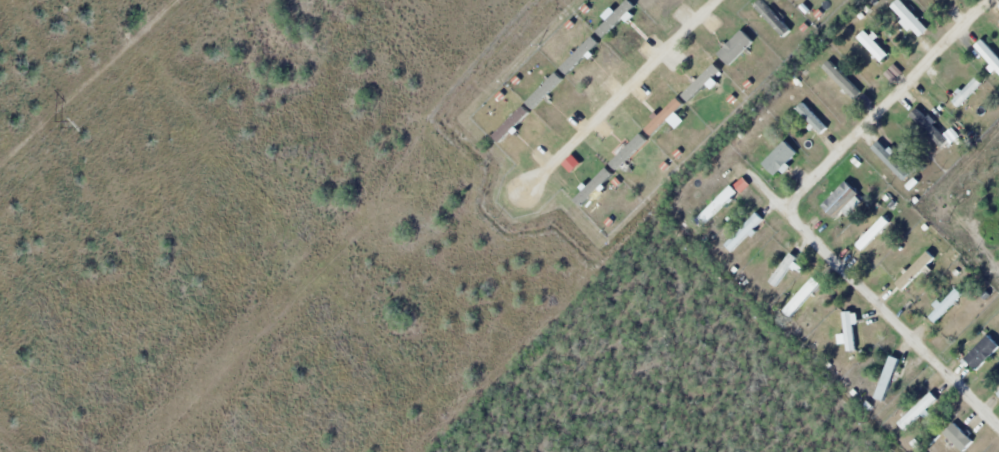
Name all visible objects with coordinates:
building: (915, 26)
building: (874, 46)
building: (989, 54)
building: (845, 90)
building: (968, 92)
building: (812, 119)
power tower: (56, 124)
building: (930, 129)
building: (781, 158)
building: (892, 162)
building: (838, 199)
building: (719, 205)
road: (788, 213)
building: (746, 232)
building: (876, 233)
building: (916, 270)
building: (804, 297)
building: (947, 306)
building: (851, 332)
building: (984, 352)
building: (889, 379)
building: (998, 393)
building: (919, 412)
building: (960, 437)

